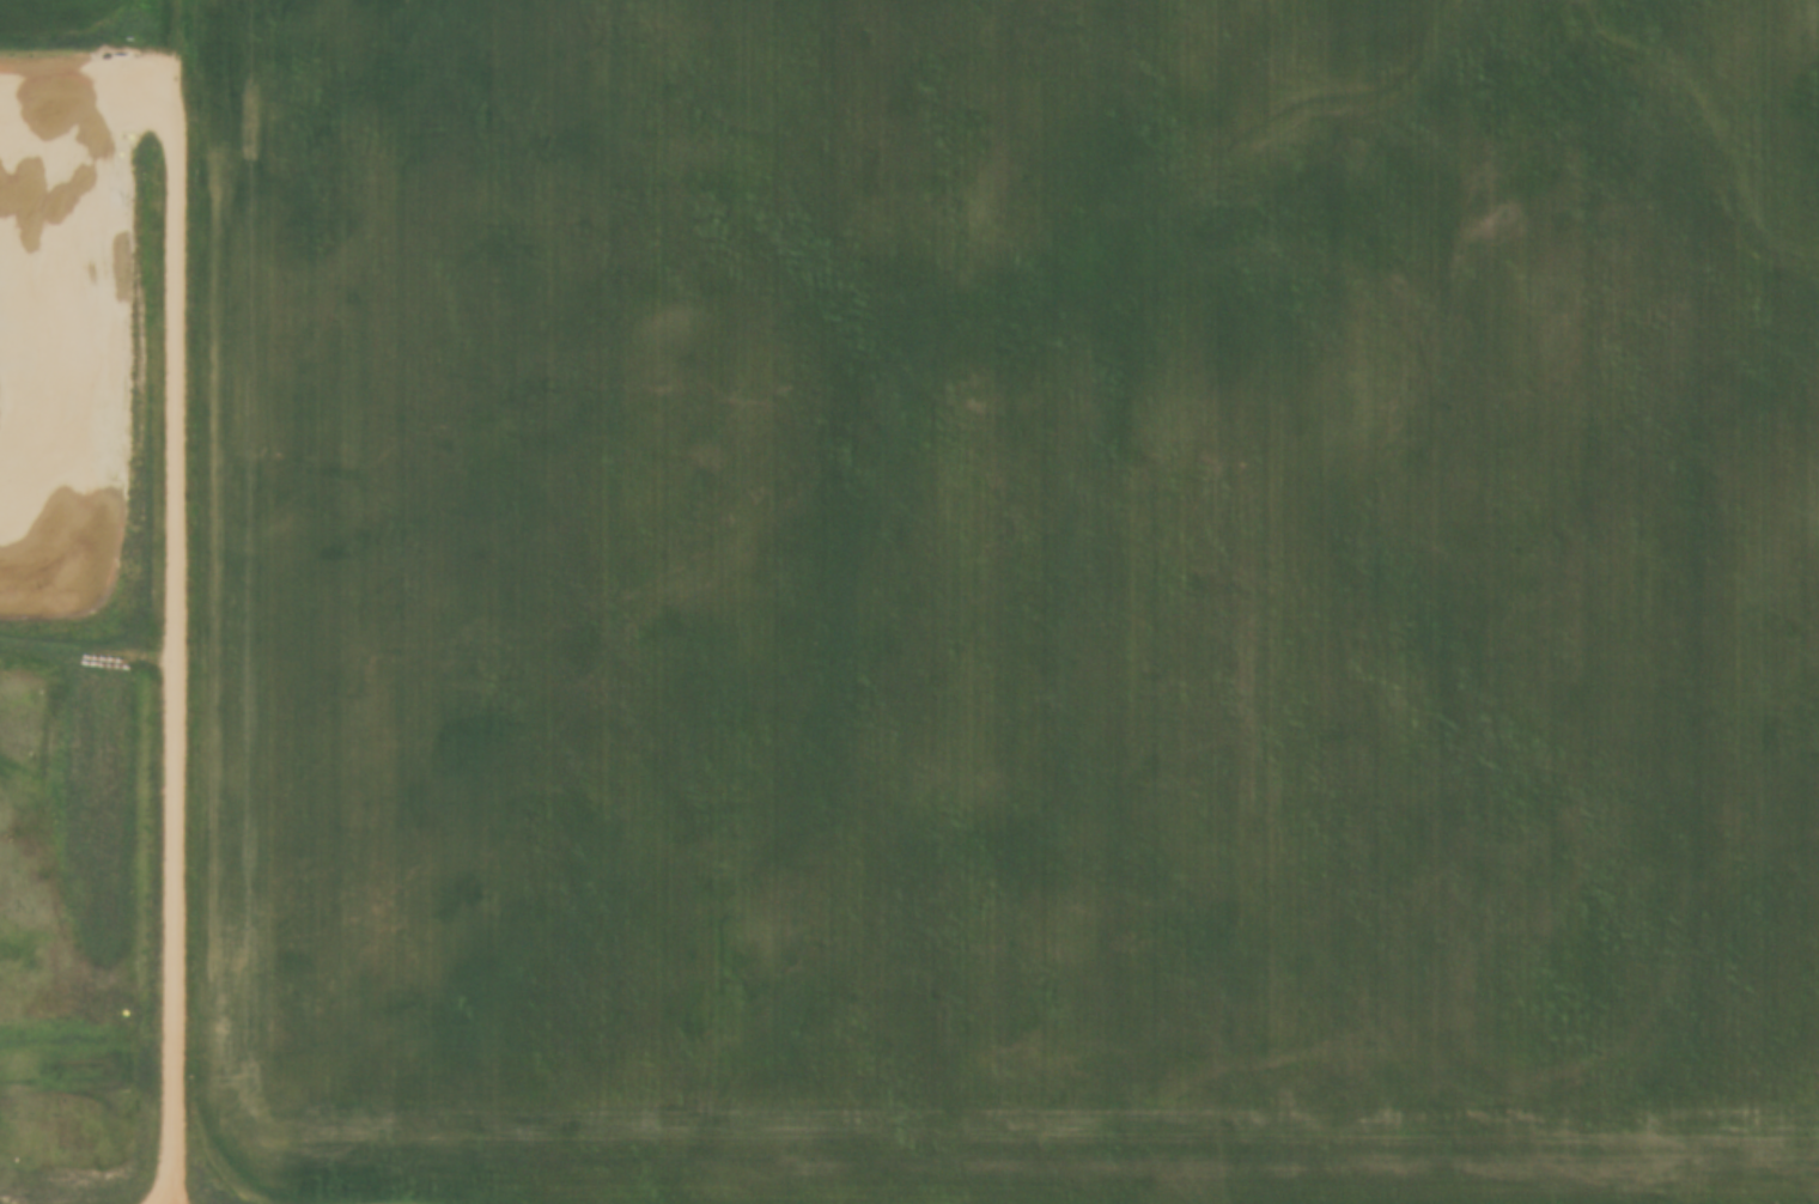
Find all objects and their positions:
road: (164, 42)
road: (22, 238)
road: (163, 644)

